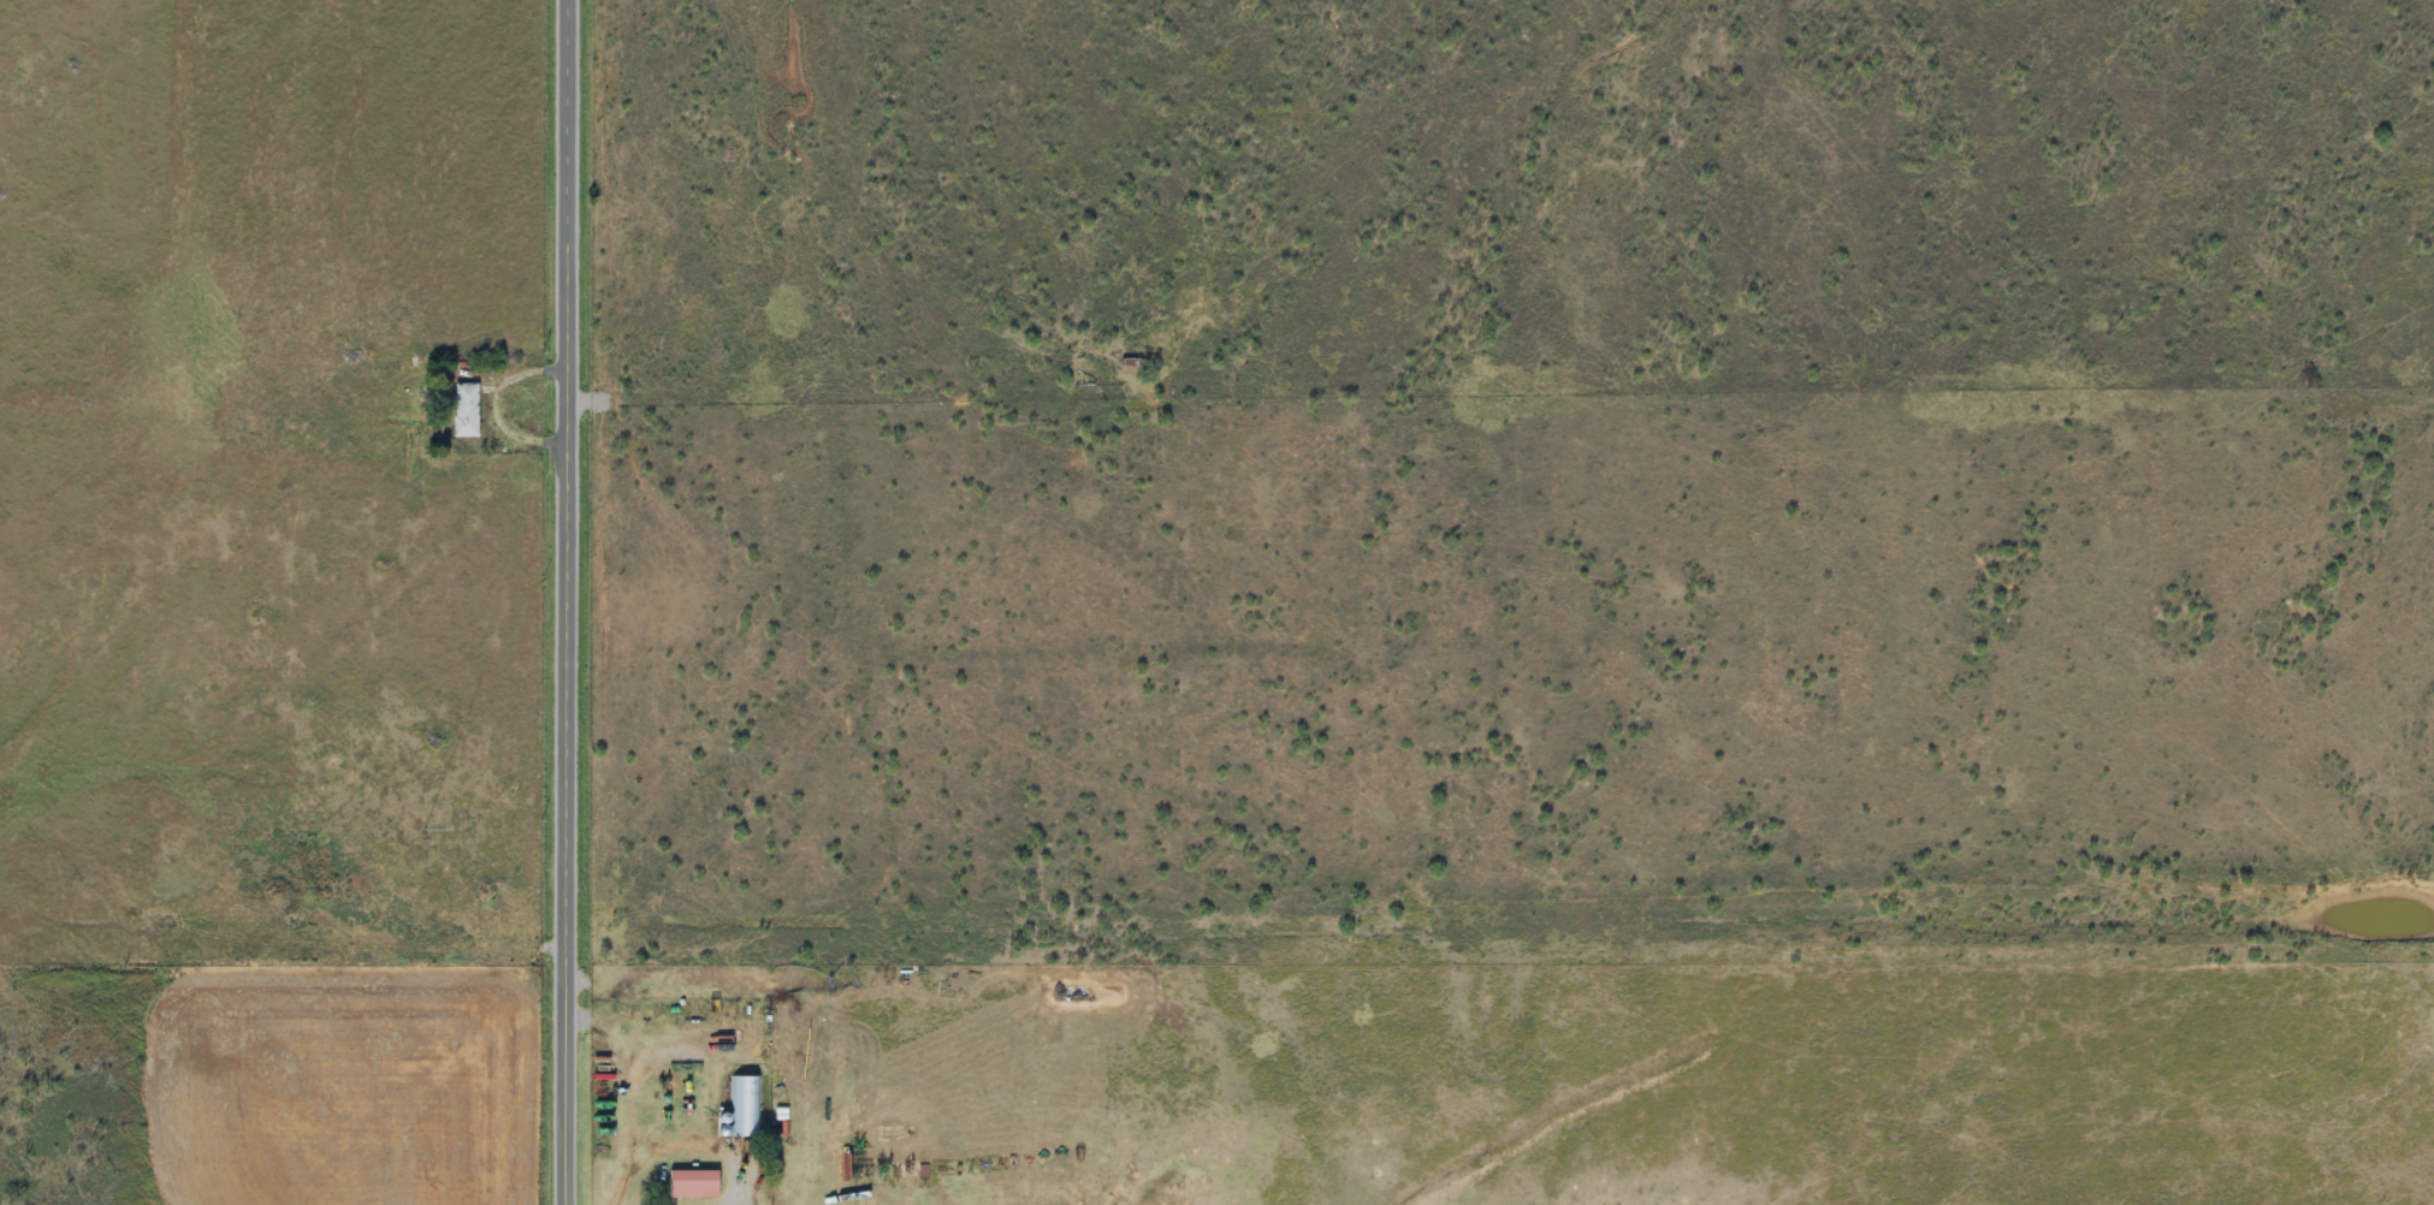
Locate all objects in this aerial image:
building: (462, 411)
road: (580, 602)
building: (744, 1105)
building: (689, 1183)

